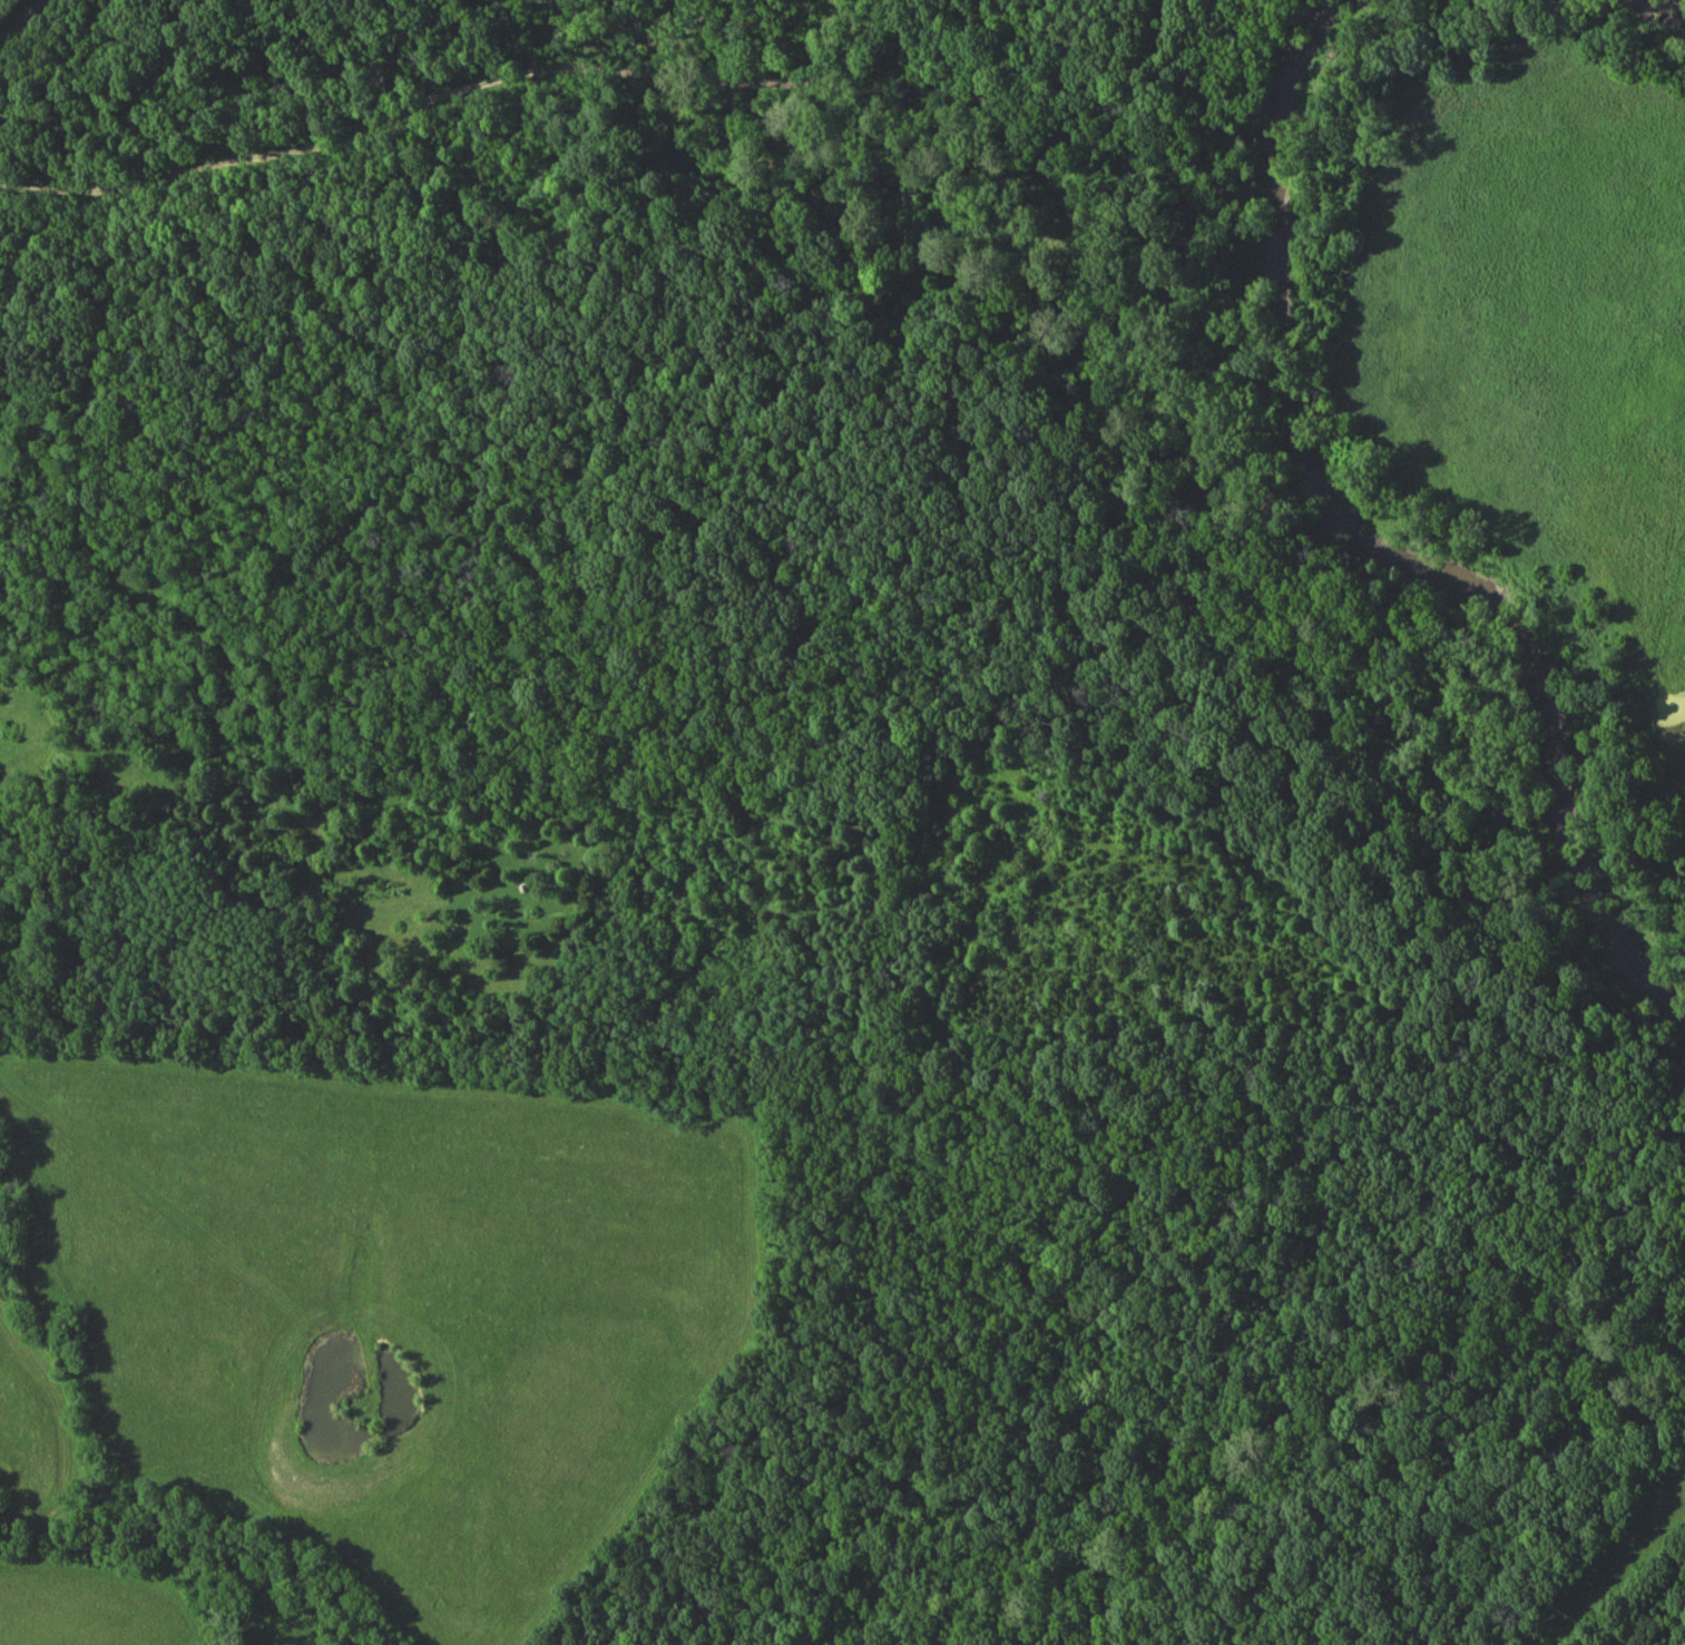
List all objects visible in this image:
river: (1664, 8)
river: (1373, 549)

